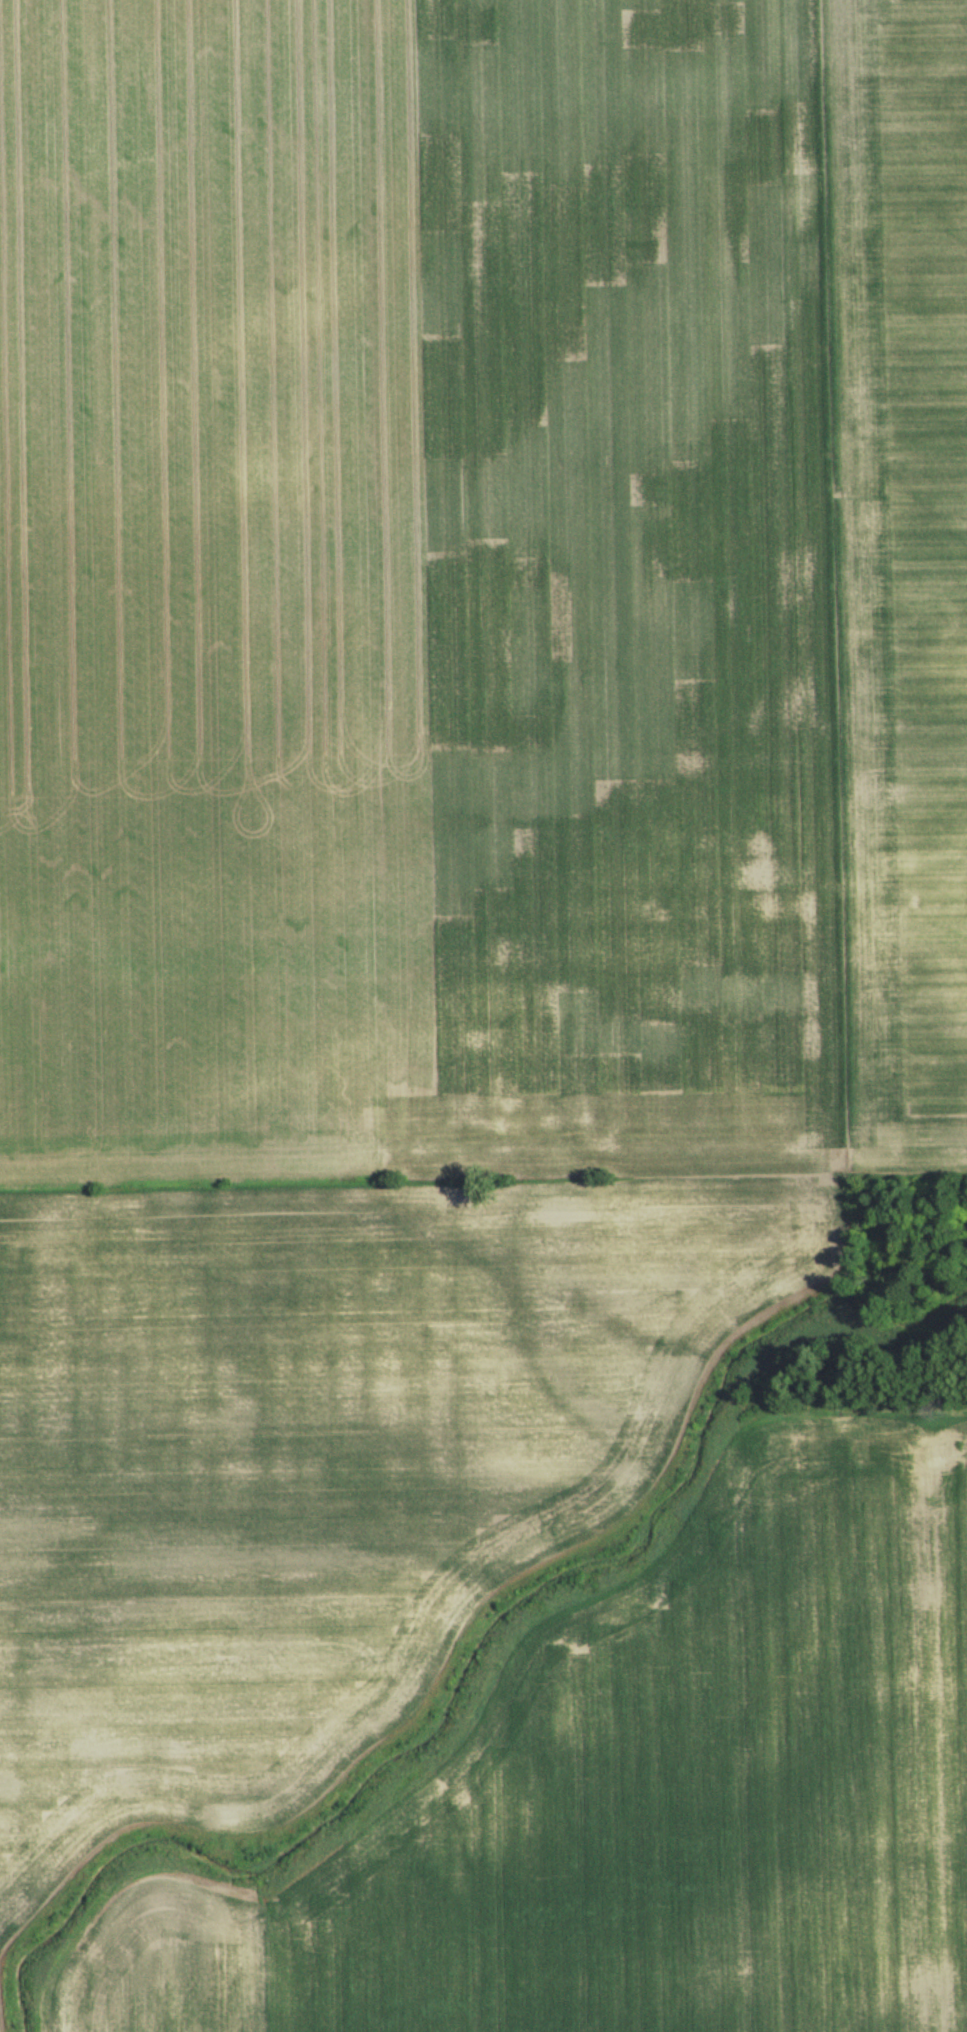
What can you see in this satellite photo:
crop: (900, 556)
crop: (415, 591)
crop: (329, 1446)
crop: (653, 1803)

